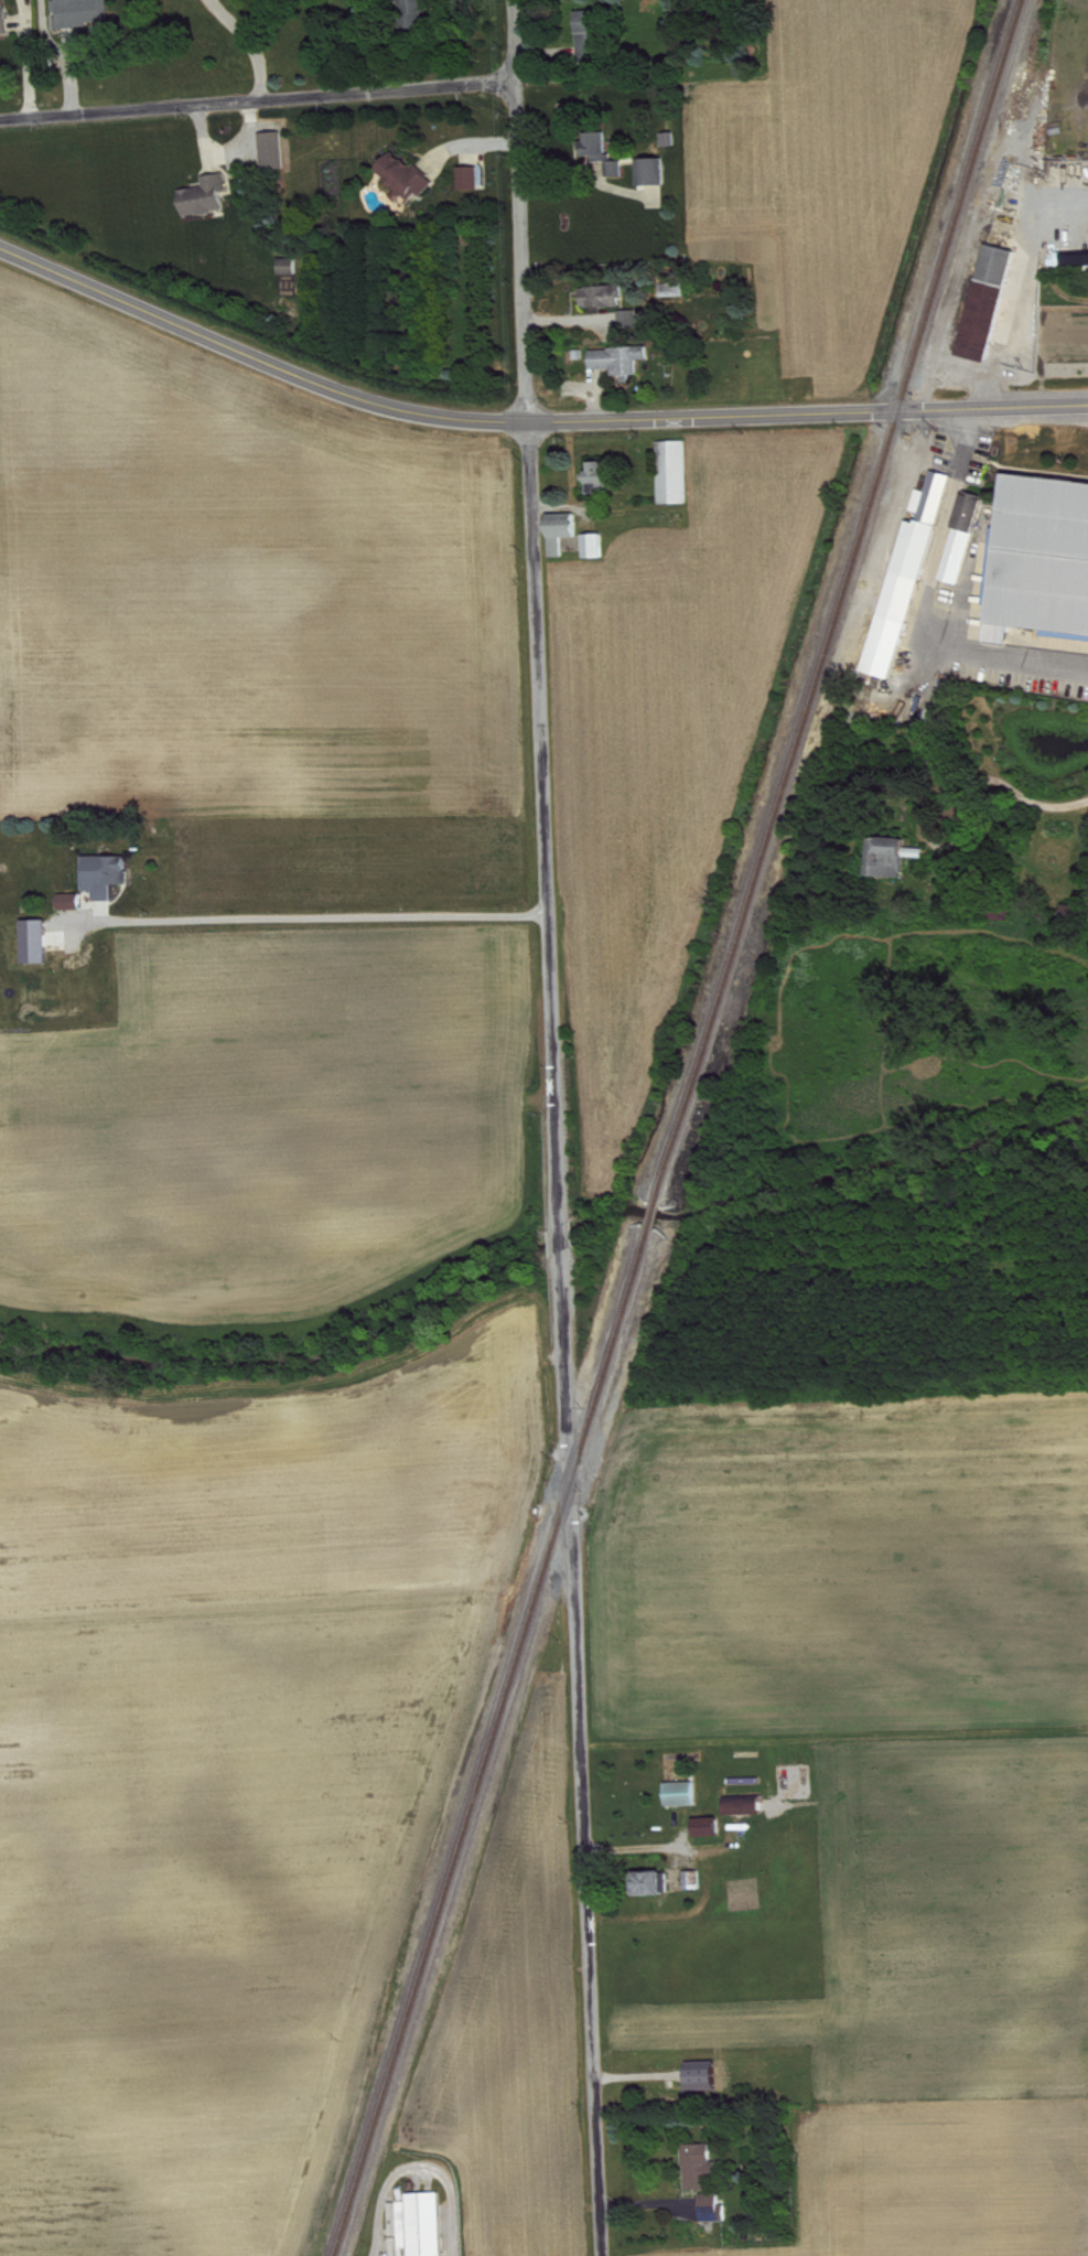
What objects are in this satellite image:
building: (85, 15)
building: (417, 15)
building: (6, 20)
building: (594, 42)
road: (246, 43)
road: (258, 96)
building: (277, 155)
building: (606, 157)
building: (656, 178)
building: (410, 181)
building: (473, 183)
building: (209, 202)
building: (292, 271)
building: (678, 294)
building: (607, 301)
building: (992, 308)
building: (633, 323)
building: (624, 365)
road: (528, 419)
building: (678, 477)
building: (604, 483)
building: (565, 536)
building: (967, 542)
building: (599, 550)
building: (1042, 563)
railway: (839, 602)
road: (929, 604)
road: (536, 609)
road: (1031, 802)
building: (109, 880)
building: (75, 906)
road: (320, 914)
building: (40, 946)
railway: (653, 1215)
road: (562, 1236)
railway: (492, 1740)
road: (581, 1754)
building: (685, 1800)
building: (746, 1812)
building: (712, 1833)
road: (642, 1846)
building: (697, 1886)
building: (653, 1889)
road: (418, 2167)
building: (704, 2172)
building: (718, 2214)
building: (430, 2227)

